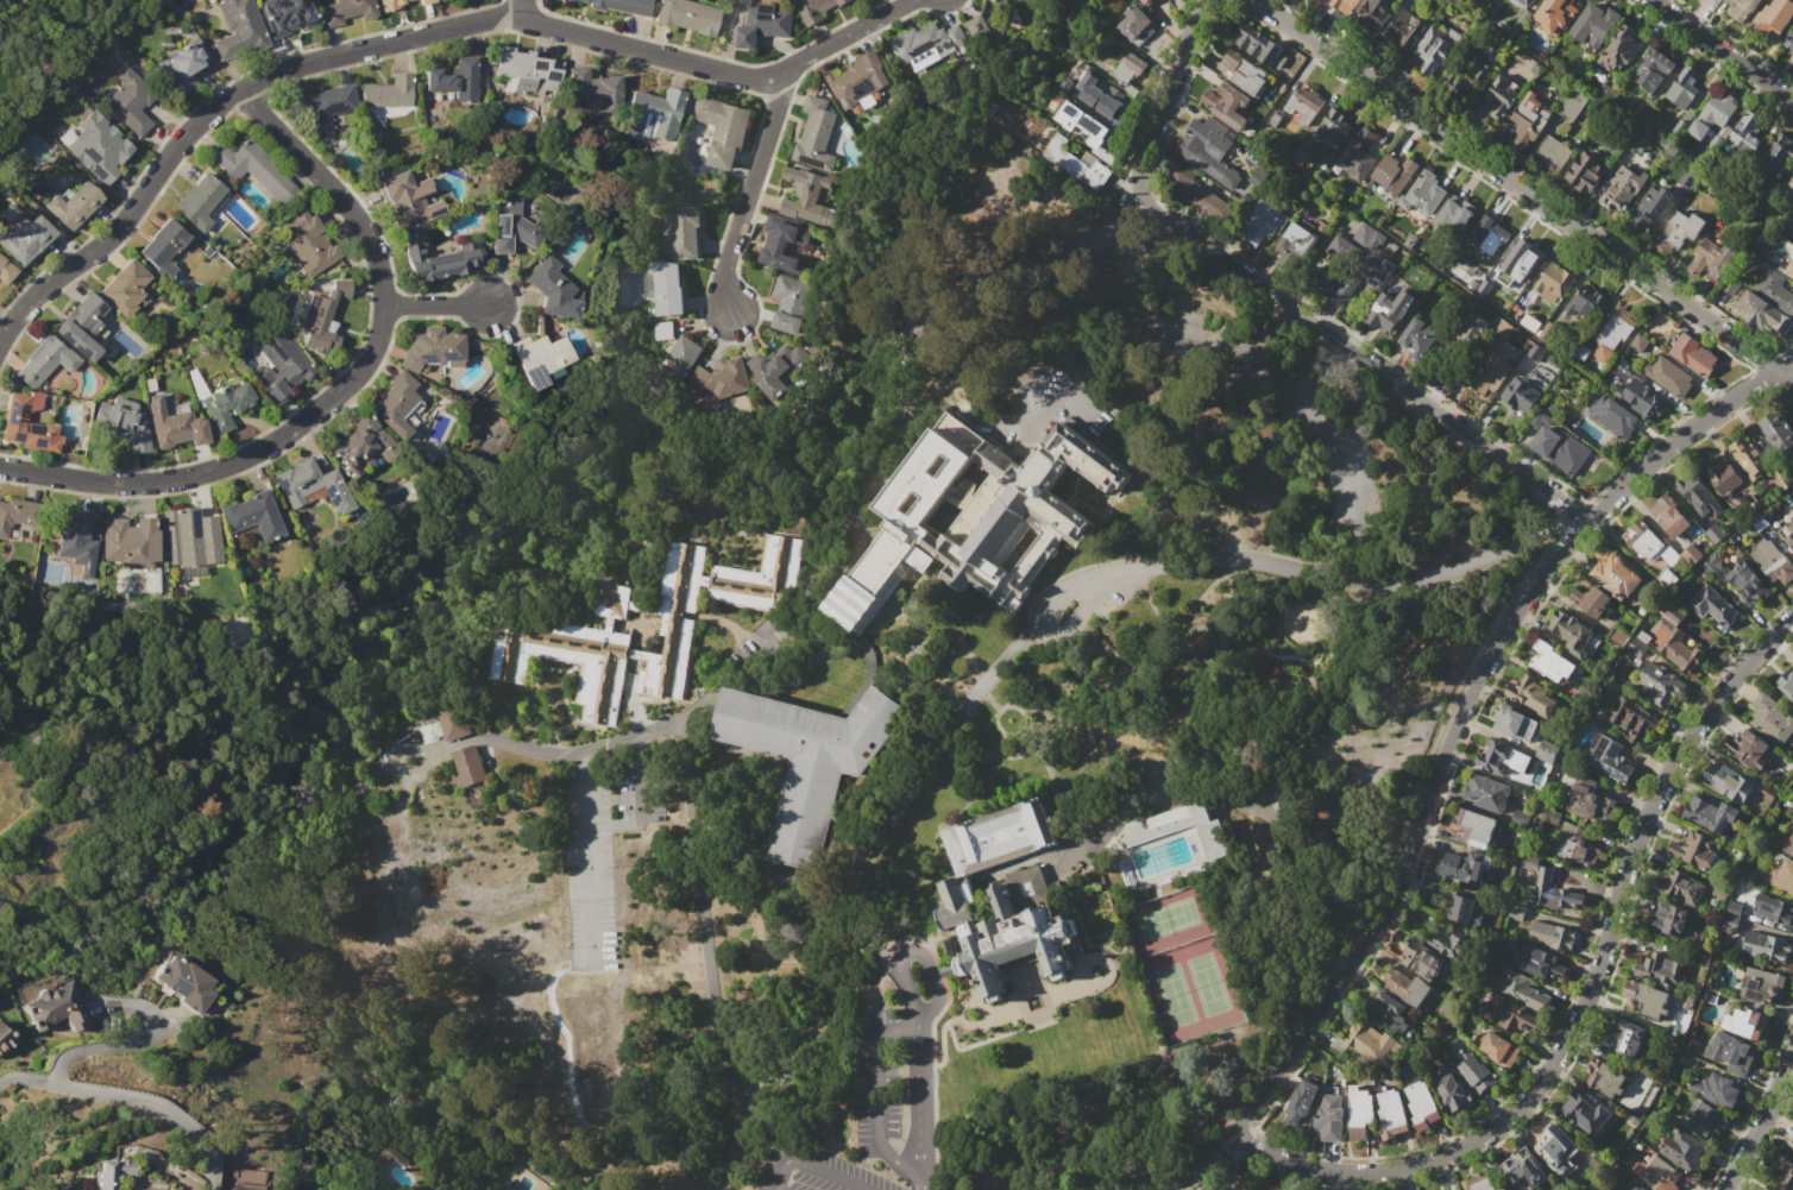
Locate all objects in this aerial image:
building: (993, 0)
building: (426, 1)
building: (1004, 1)
building: (1144, 1)
building: (1486, 1)
building: (1528, 1)
building: (392, 4)
building: (1346, 4)
building: (618, 5)
building: (1742, 7)
building: (814, 8)
road: (522, 10)
building: (345, 11)
building: (1374, 12)
building: (1555, 14)
building: (287, 15)
building: (686, 15)
building: (1774, 17)
building: (760, 21)
building: (1137, 24)
building: (1518, 24)
building: (1593, 25)
building: (976, 27)
building: (1408, 29)
building: (238, 30)
road: (410, 37)
building: (929, 42)
building: (1789, 43)
building: (1259, 48)
building: (1435, 48)
building: (1619, 49)
road: (1722, 50)
building: (183, 67)
building: (1128, 67)
building: (1476, 69)
building: (1653, 69)
building: (527, 71)
building: (1244, 73)
road: (1174, 74)
building: (454, 77)
building: (858, 78)
building: (1682, 87)
building: (589, 88)
building: (1068, 88)
building: (388, 92)
building: (1097, 95)
building: (1499, 96)
building: (131, 100)
building: (1304, 103)
building: (1227, 105)
building: (1572, 105)
building: (326, 108)
building: (1713, 114)
building: (652, 115)
building: (1646, 117)
building: (1275, 118)
building: (1529, 119)
building: (1082, 122)
building: (1333, 125)
building: (722, 128)
building: (816, 134)
building: (1745, 136)
building: (1637, 143)
building: (97, 146)
building: (1210, 149)
building: (1552, 153)
building: (1358, 156)
building: (1776, 156)
building: (254, 169)
building: (1087, 169)
building: (1393, 172)
building: (1585, 172)
road: (748, 185)
road: (1521, 185)
building: (1622, 188)
building: (1788, 190)
building: (1199, 194)
building: (1423, 194)
building: (807, 197)
building: (408, 199)
building: (199, 200)
building: (71, 204)
building: (1649, 209)
road: (1144, 214)
building: (1453, 216)
building: (1264, 221)
building: (1788, 225)
building: (510, 226)
building: (1678, 231)
building: (685, 232)
building: (1489, 234)
building: (1369, 235)
building: (24, 238)
building: (1297, 240)
building: (306, 244)
building: (781, 244)
building: (163, 248)
building: (1523, 257)
building: (1710, 258)
building: (440, 259)
building: (1333, 264)
building: (1791, 269)
building: (6, 271)
road: (1015, 273)
building: (1363, 277)
building: (1554, 281)
building: (663, 285)
building: (124, 289)
building: (554, 289)
building: (1774, 290)
building: (1503, 298)
building: (791, 303)
building: (1585, 304)
road: (435, 307)
building: (1389, 313)
building: (84, 314)
building: (1763, 314)
building: (321, 315)
building: (1502, 327)
building: (1470, 328)
building: (662, 330)
building: (1613, 332)
building: (1417, 336)
building: (76, 341)
building: (1638, 342)
building: (433, 352)
road: (1358, 352)
building: (1579, 352)
building: (1693, 354)
building: (682, 355)
building: (542, 358)
building: (44, 360)
road: (1251, 361)
building: (278, 363)
road: (1028, 365)
building: (1492, 367)
building: (1624, 370)
building: (778, 371)
building: (1668, 376)
building: (721, 378)
road: (340, 390)
building: (1520, 396)
road: (1067, 398)
building: (1641, 398)
road: (1083, 401)
building: (226, 403)
building: (395, 403)
building: (1612, 416)
building: (122, 422)
building: (26, 423)
building: (175, 426)
building: (1776, 430)
road: (1687, 439)
building: (359, 445)
building: (1558, 451)
building: (1749, 457)
building: (1792, 465)
building: (1720, 476)
building: (1780, 483)
building: (313, 485)
building: (1698, 495)
building: (1756, 500)
building: (1668, 516)
building: (252, 517)
building: (974, 517)
building: (15, 520)
building: (1759, 522)
building: (1792, 523)
building: (1715, 533)
building: (190, 537)
building: (74, 539)
building: (1791, 539)
building: (131, 542)
building: (1657, 544)
building: (1792, 547)
building: (1772, 561)
building: (1713, 563)
building: (1617, 577)
building: (761, 578)
building: (1747, 581)
road: (1355, 583)
road: (1065, 593)
building: (608, 598)
building: (1596, 602)
building: (1713, 606)
road: (1081, 611)
building: (1671, 612)
building: (674, 622)
building: (1571, 632)
building: (1617, 636)
building: (1636, 644)
building: (1678, 647)
road: (759, 651)
building: (565, 659)
building: (1549, 661)
building: (1660, 684)
building: (1786, 684)
building: (1531, 694)
building: (454, 719)
building: (1631, 719)
building: (1770, 719)
building: (1515, 723)
road: (637, 743)
road: (441, 750)
building: (1547, 750)
building: (1749, 750)
road: (584, 755)
building: (1493, 755)
building: (1611, 758)
building: (804, 761)
building: (467, 766)
building: (1728, 781)
park: (109, 782)
building: (1487, 793)
road: (38, 799)
building: (1588, 801)
road: (640, 813)
building: (1710, 814)
building: (1547, 816)
building: (1520, 818)
building: (1166, 823)
building: (1476, 827)
building: (1000, 837)
building: (1788, 845)
building: (1575, 846)
building: (1694, 850)
road: (586, 862)
building: (1528, 863)
building: (1462, 867)
road: (1399, 873)
building: (1780, 875)
building: (1030, 884)
building: (1687, 889)
building: (1554, 892)
building: (957, 909)
building: (1776, 909)
building: (1464, 911)
building: (1515, 912)
building: (1731, 915)
building: (1667, 918)
building: (1552, 934)
building: (1014, 944)
building: (1453, 945)
building: (1762, 945)
road: (706, 951)
building: (1421, 958)
building: (1537, 962)
building: (1660, 968)
road: (937, 982)
building: (183, 983)
road: (906, 983)
building: (1761, 984)
building: (1409, 990)
building: (1524, 991)
building: (1646, 997)
building: (55, 1007)
road: (1591, 1010)
building: (1388, 1012)
building: (1505, 1014)
building: (1744, 1022)
building: (1625, 1037)
building: (6, 1043)
building: (1374, 1045)
building: (1499, 1049)
building: (1730, 1052)
building: (1687, 1060)
road: (875, 1068)
building: (1477, 1073)
building: (1608, 1076)
road: (26, 1079)
road: (57, 1087)
building: (1715, 1089)
building: (1451, 1094)
road: (923, 1100)
building: (1301, 1101)
building: (1421, 1106)
building: (1359, 1113)
building: (1391, 1114)
building: (1588, 1114)
road: (1759, 1116)
building: (1329, 1117)
building: (1705, 1121)
building: (1552, 1141)
building: (1792, 1141)
building: (1682, 1150)
building: (397, 1154)
road: (898, 1161)
road: (813, 1166)
park: (7, 1169)
building: (1523, 1170)
building: (109, 1173)
building: (1783, 1173)
building: (1659, 1175)
road: (921, 1182)
building: (1481, 1182)
road: (1734, 1185)
building: (1218, 1188)
building: (1636, 1188)
building: (235, 1189)
building: (290, 1189)
building: (1265, 1189)
building: (1503, 1189)
building: (1622, 1189)

